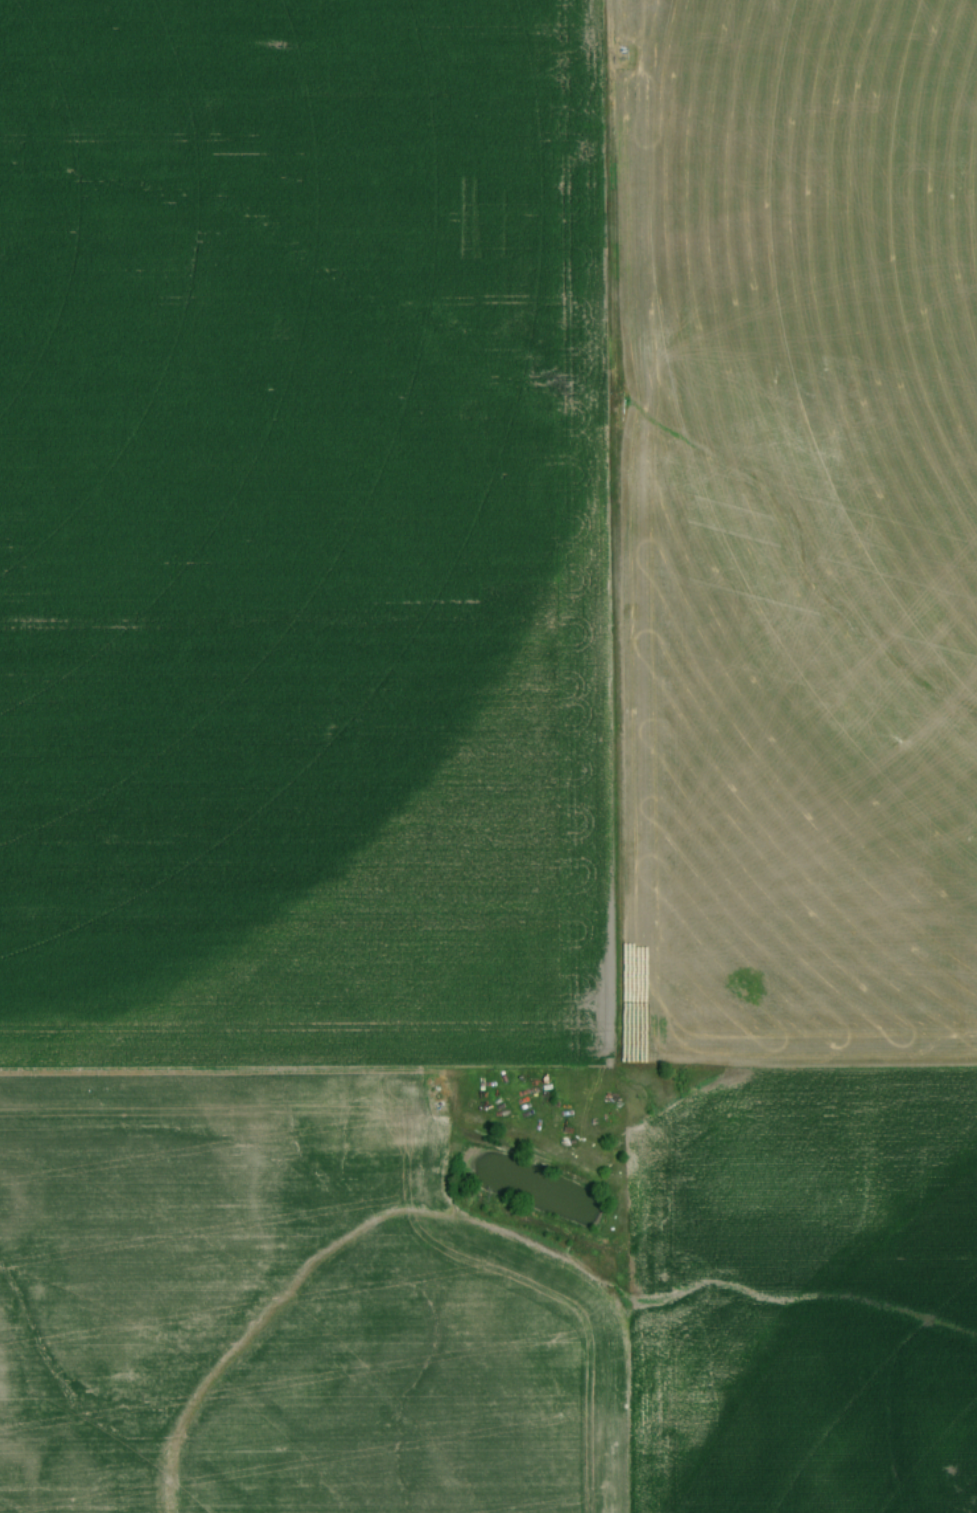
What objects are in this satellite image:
railway: (488, 55)

